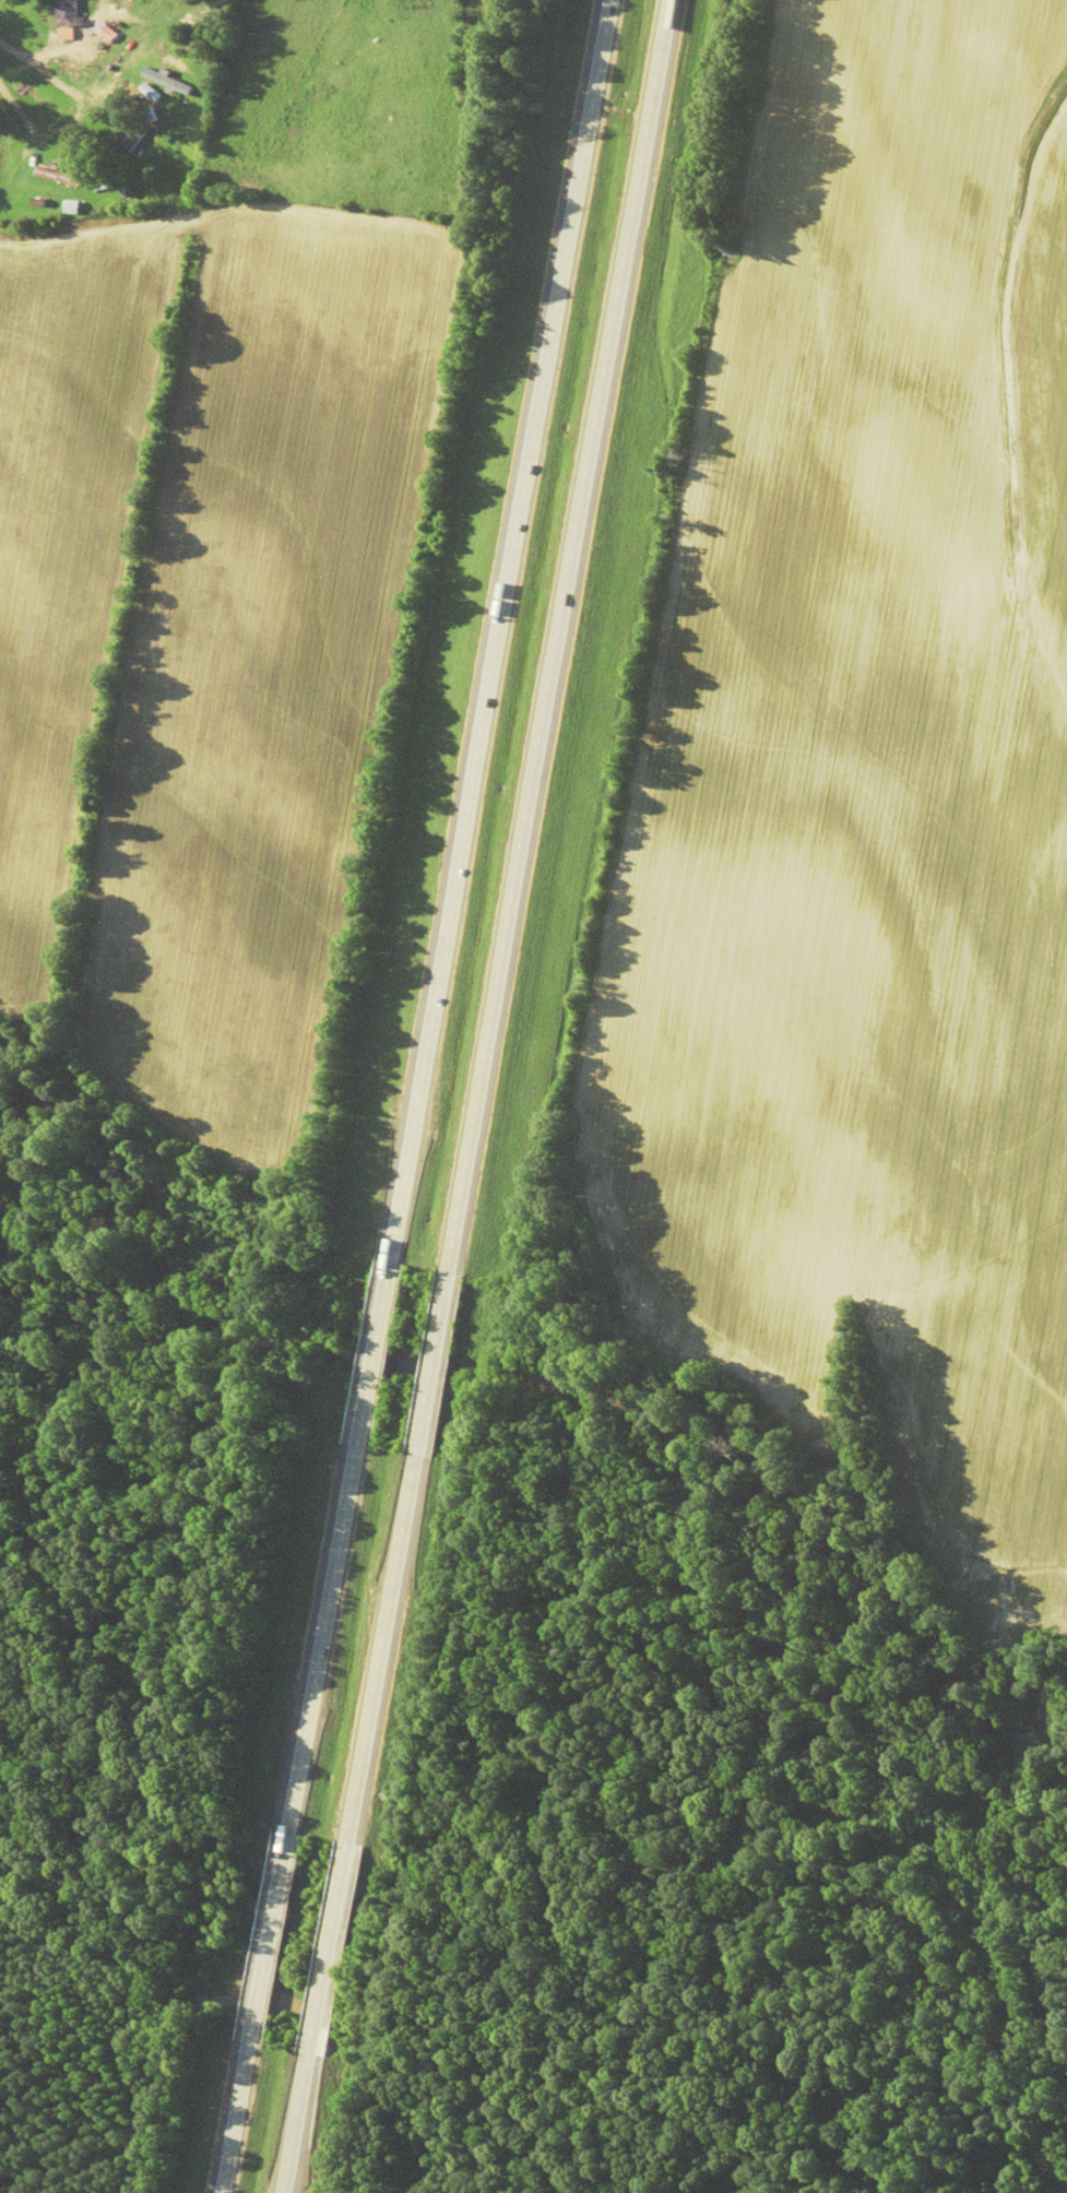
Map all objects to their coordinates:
building: (413, 3)
building: (64, 12)
building: (102, 32)
building: (128, 134)
building: (68, 205)
road: (36, 269)
road: (447, 916)
road: (506, 920)
road: (272, 1937)
road: (330, 1946)
road: (239, 2118)
road: (300, 2122)

